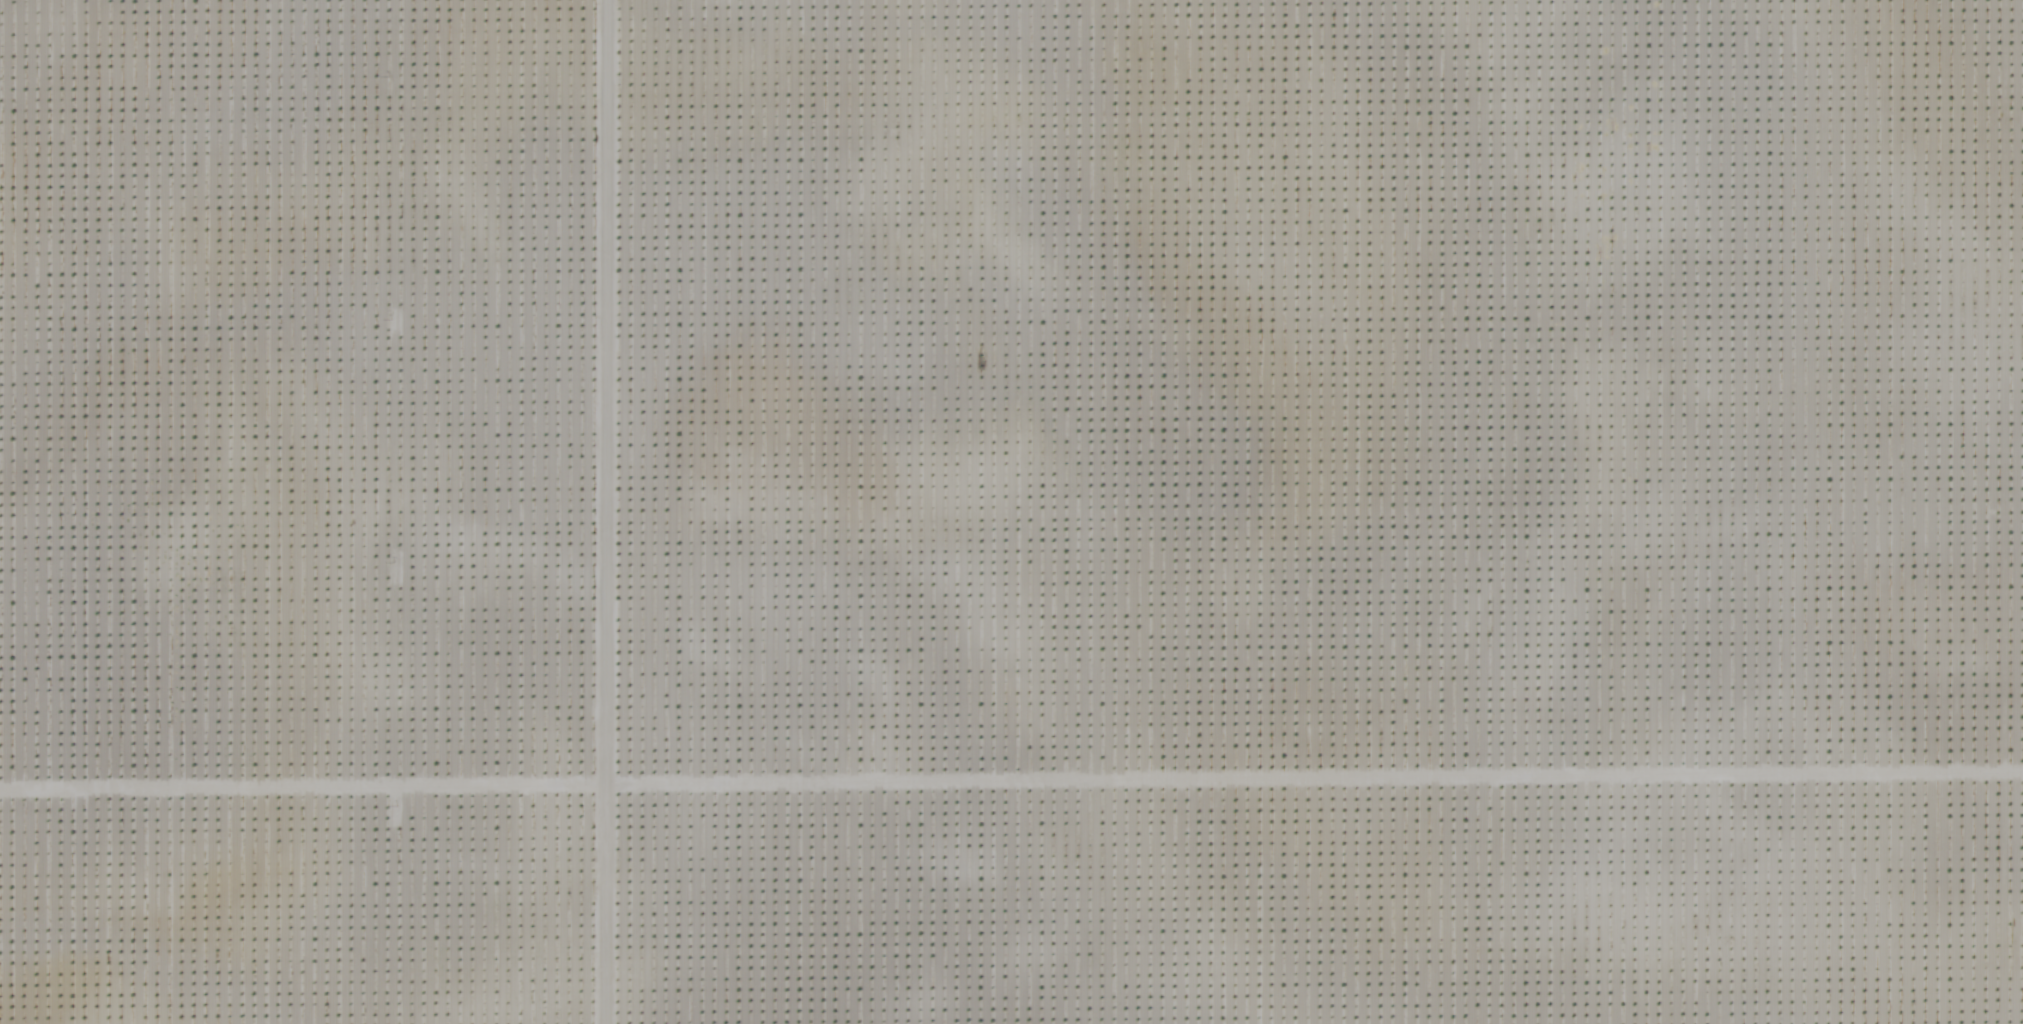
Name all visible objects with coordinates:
crop: (1011, 512)

